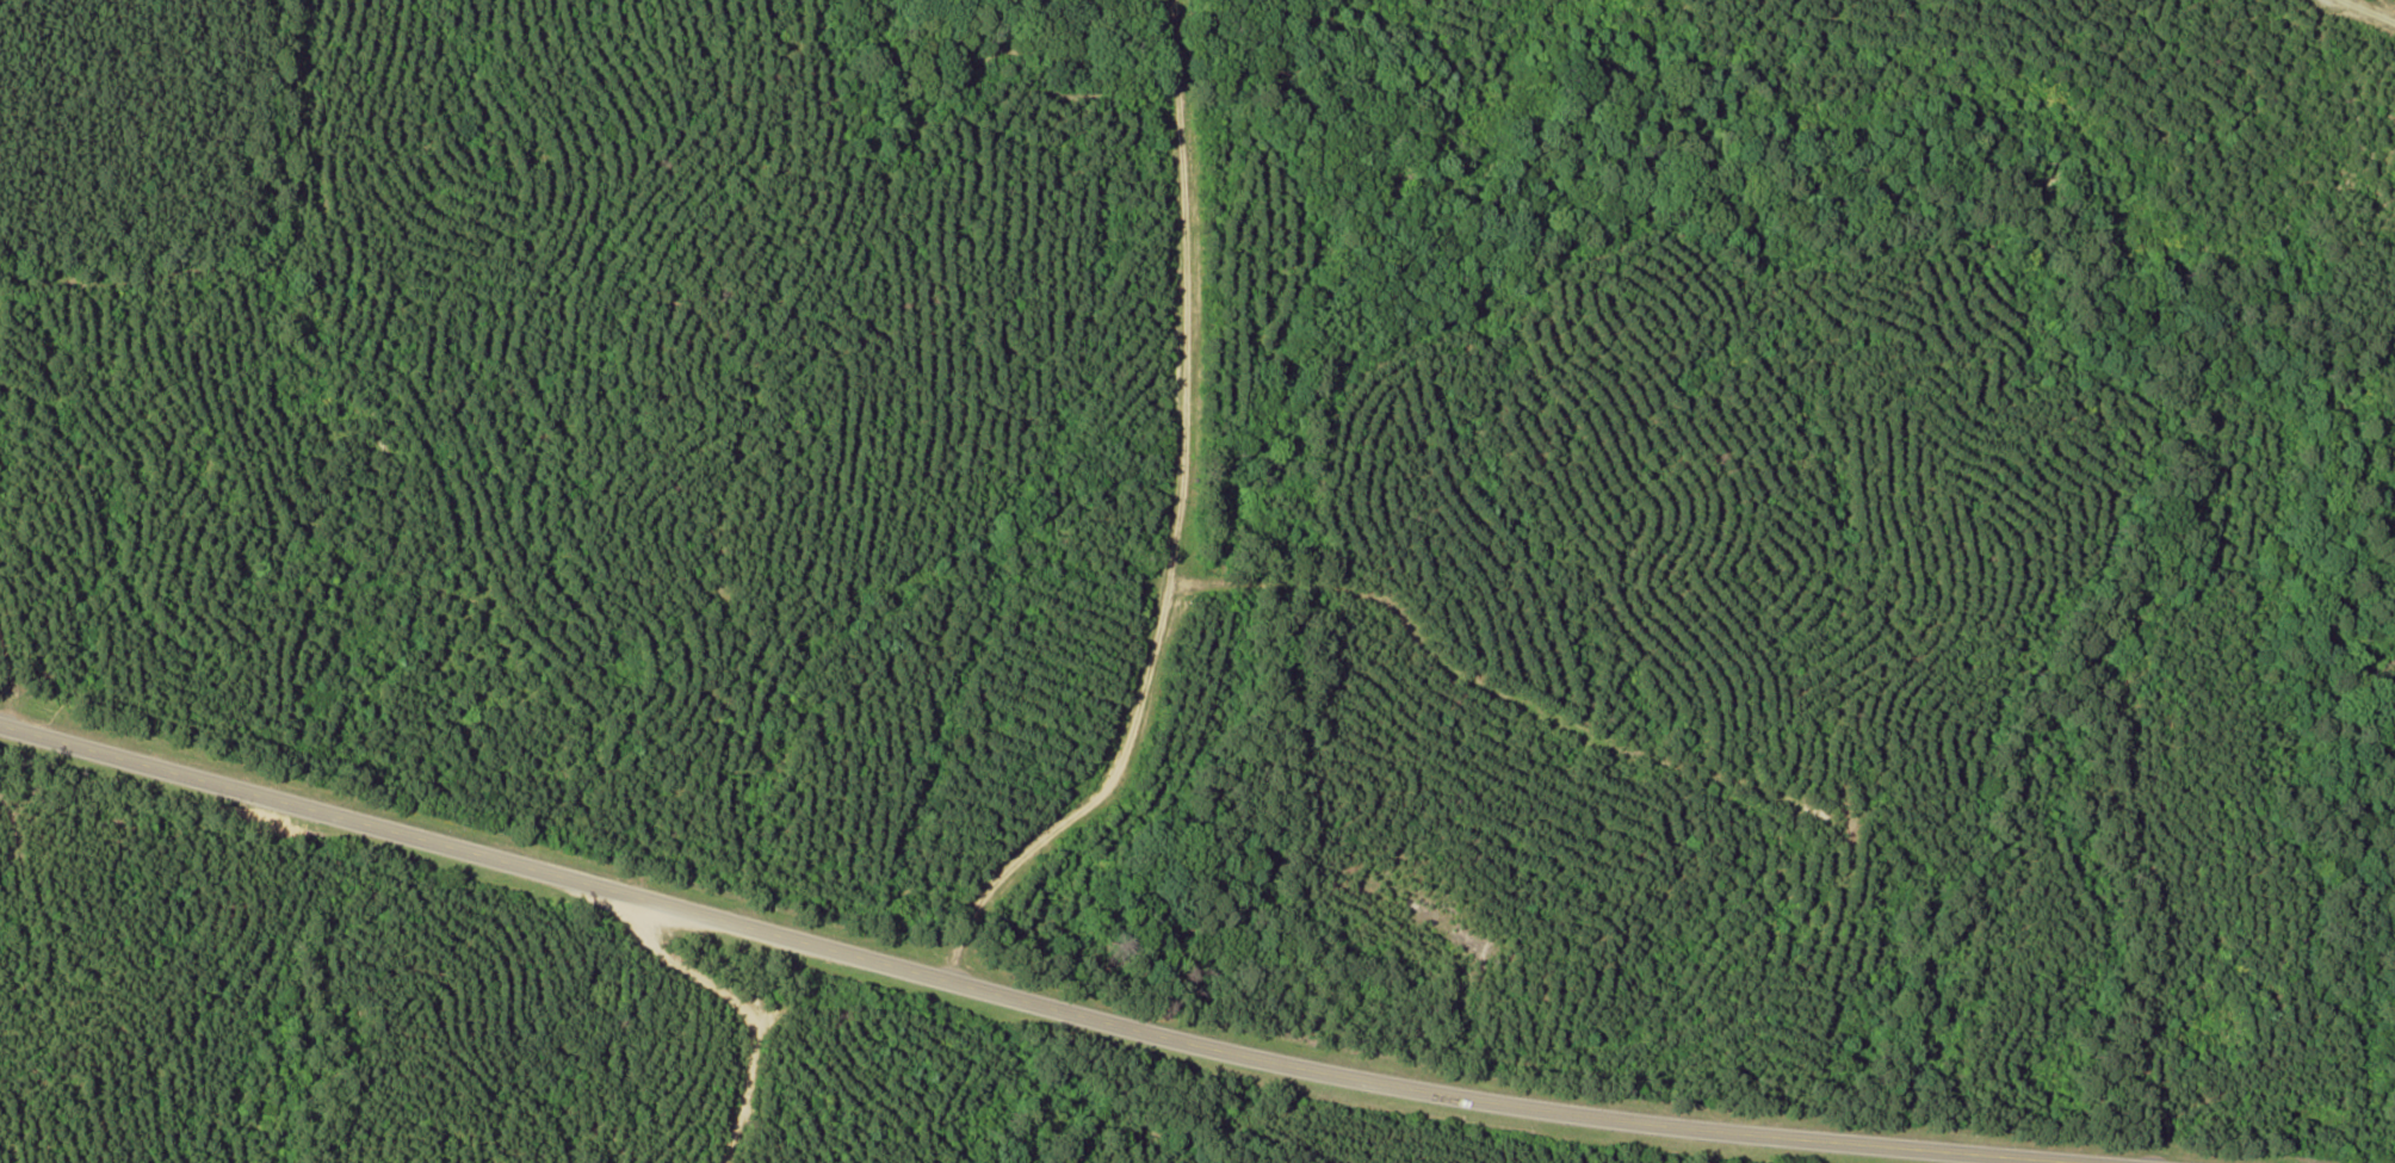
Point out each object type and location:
road: (1045, 1002)

